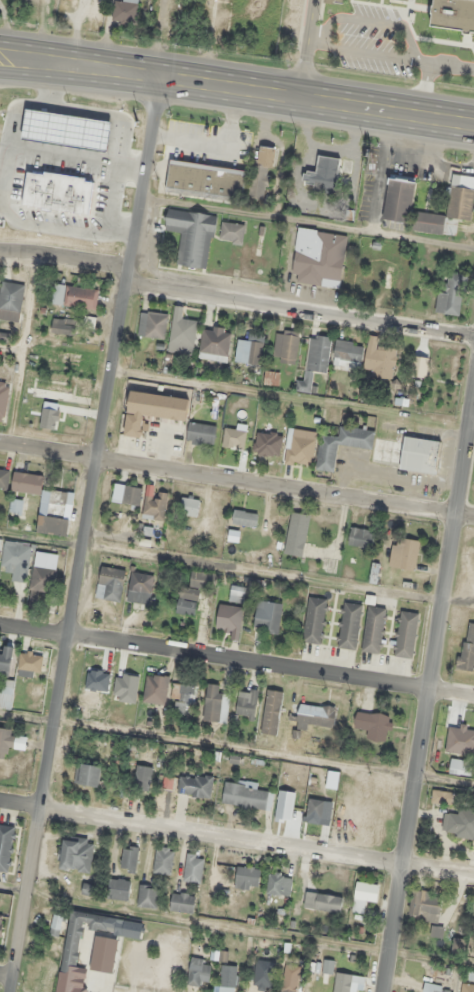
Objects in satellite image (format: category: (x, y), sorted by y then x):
building: (337, 1)
building: (94, 4)
building: (124, 10)
building: (453, 15)
road: (18, 48)
road: (309, 50)
road: (17, 68)
road: (253, 92)
building: (65, 130)
building: (261, 171)
building: (323, 175)
road: (142, 178)
building: (204, 180)
building: (58, 192)
building: (398, 200)
building: (448, 207)
building: (231, 232)
building: (192, 236)
building: (319, 257)
building: (394, 280)
building: (451, 295)
building: (75, 296)
building: (11, 300)
road: (233, 302)
building: (153, 324)
building: (63, 325)
building: (182, 332)
building: (215, 343)
building: (286, 346)
building: (249, 349)
building: (347, 354)
building: (379, 359)
building: (315, 361)
building: (271, 377)
building: (53, 391)
building: (3, 398)
building: (151, 410)
road: (470, 426)
building: (266, 429)
building: (201, 433)
building: (328, 446)
building: (301, 447)
building: (420, 455)
road: (97, 457)
building: (4, 478)
road: (236, 482)
building: (129, 495)
building: (46, 503)
building: (189, 505)
building: (16, 506)
building: (156, 506)
building: (245, 517)
building: (297, 533)
building: (360, 537)
building: (0, 544)
building: (404, 553)
building: (16, 560)
building: (41, 578)
building: (110, 584)
building: (140, 588)
building: (194, 591)
building: (237, 593)
building: (268, 615)
building: (229, 617)
building: (314, 620)
building: (349, 625)
building: (373, 629)
building: (406, 634)
building: (467, 648)
building: (6, 660)
road: (236, 662)
building: (29, 664)
building: (120, 675)
building: (155, 688)
road: (429, 689)
building: (6, 693)
building: (182, 698)
building: (215, 704)
building: (247, 704)
building: (314, 715)
building: (373, 725)
building: (12, 740)
building: (460, 740)
building: (460, 766)
building: (87, 774)
building: (143, 778)
building: (195, 785)
building: (247, 796)
building: (442, 797)
road: (37, 813)
building: (459, 823)
road: (236, 842)
building: (5, 846)
building: (76, 854)
building: (129, 857)
building: (163, 860)
building: (193, 868)
building: (247, 878)
building: (279, 884)
road: (12, 887)
building: (118, 888)
building: (364, 894)
building: (147, 896)
building: (182, 902)
building: (323, 902)
building: (425, 905)
building: (1, 923)
building: (56, 925)
building: (458, 945)
building: (77, 949)
building: (199, 972)
building: (263, 975)
road: (6, 976)
building: (290, 977)
building: (228, 978)
building: (348, 983)
building: (467, 987)
building: (436, 988)

